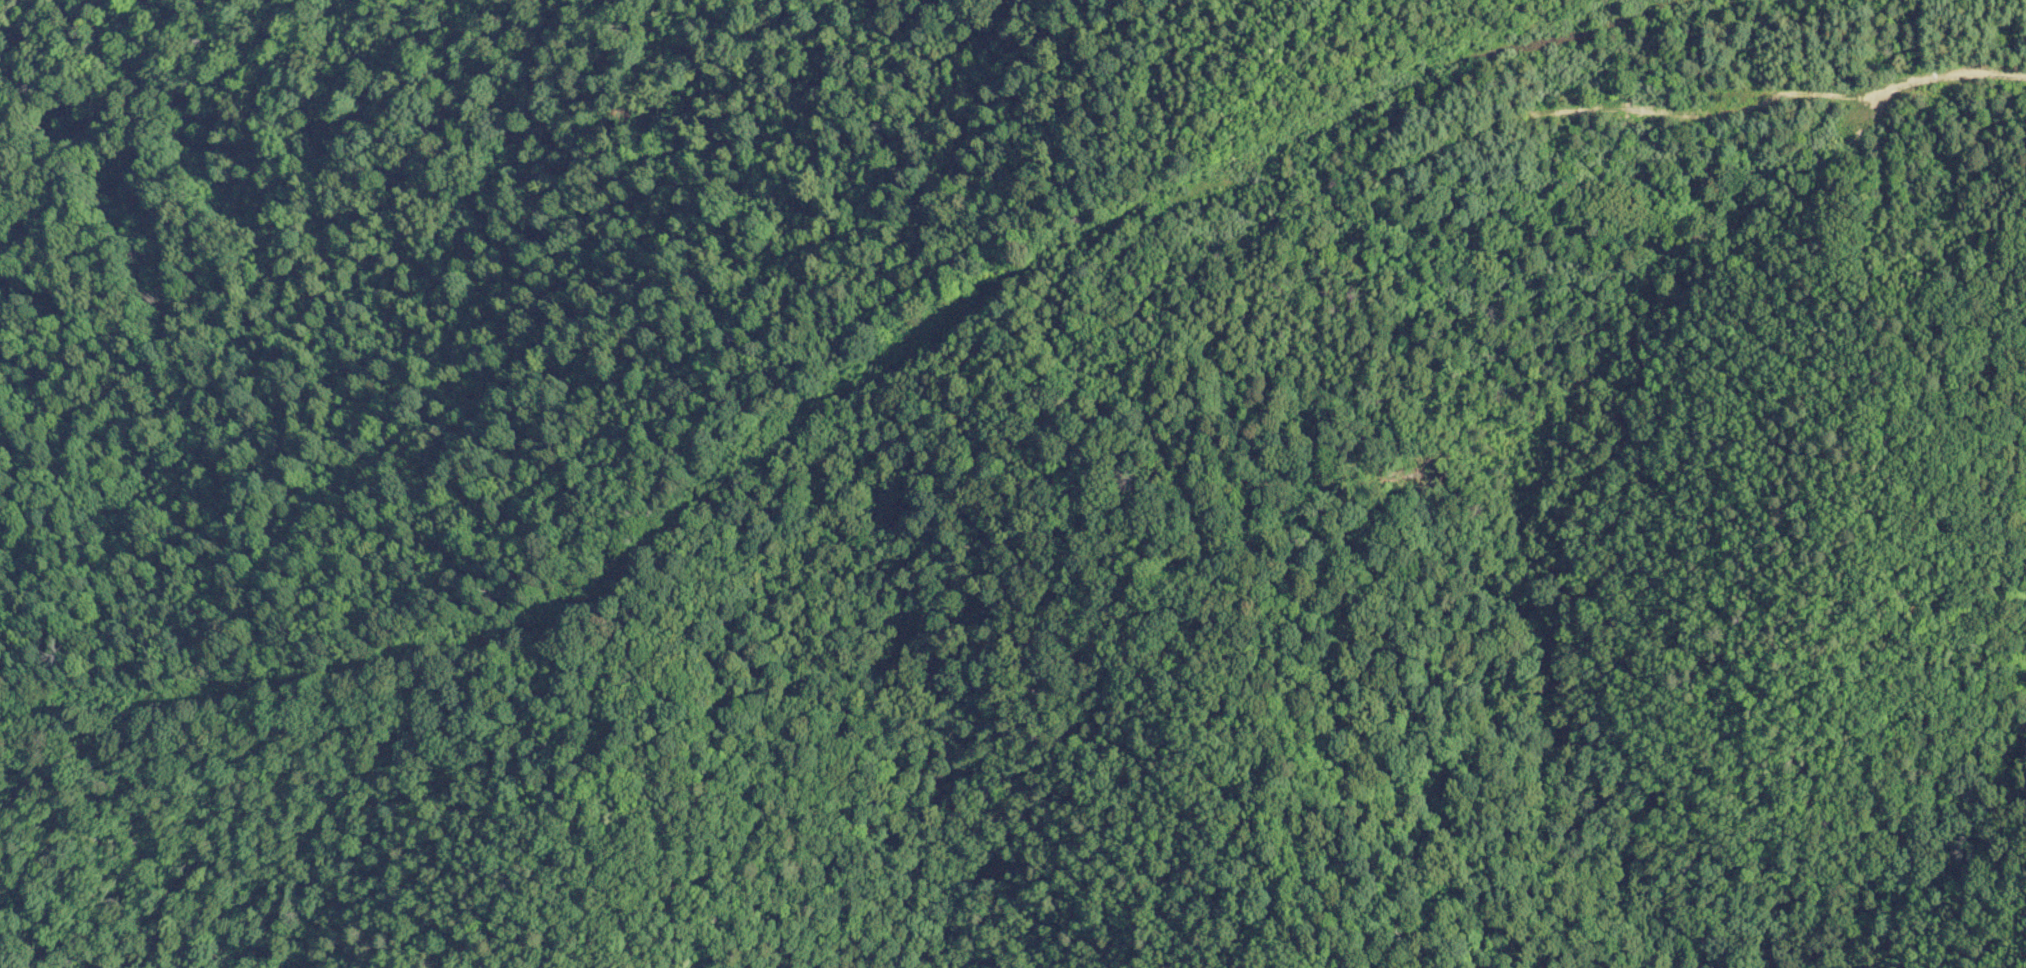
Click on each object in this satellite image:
road: (1676, 107)

